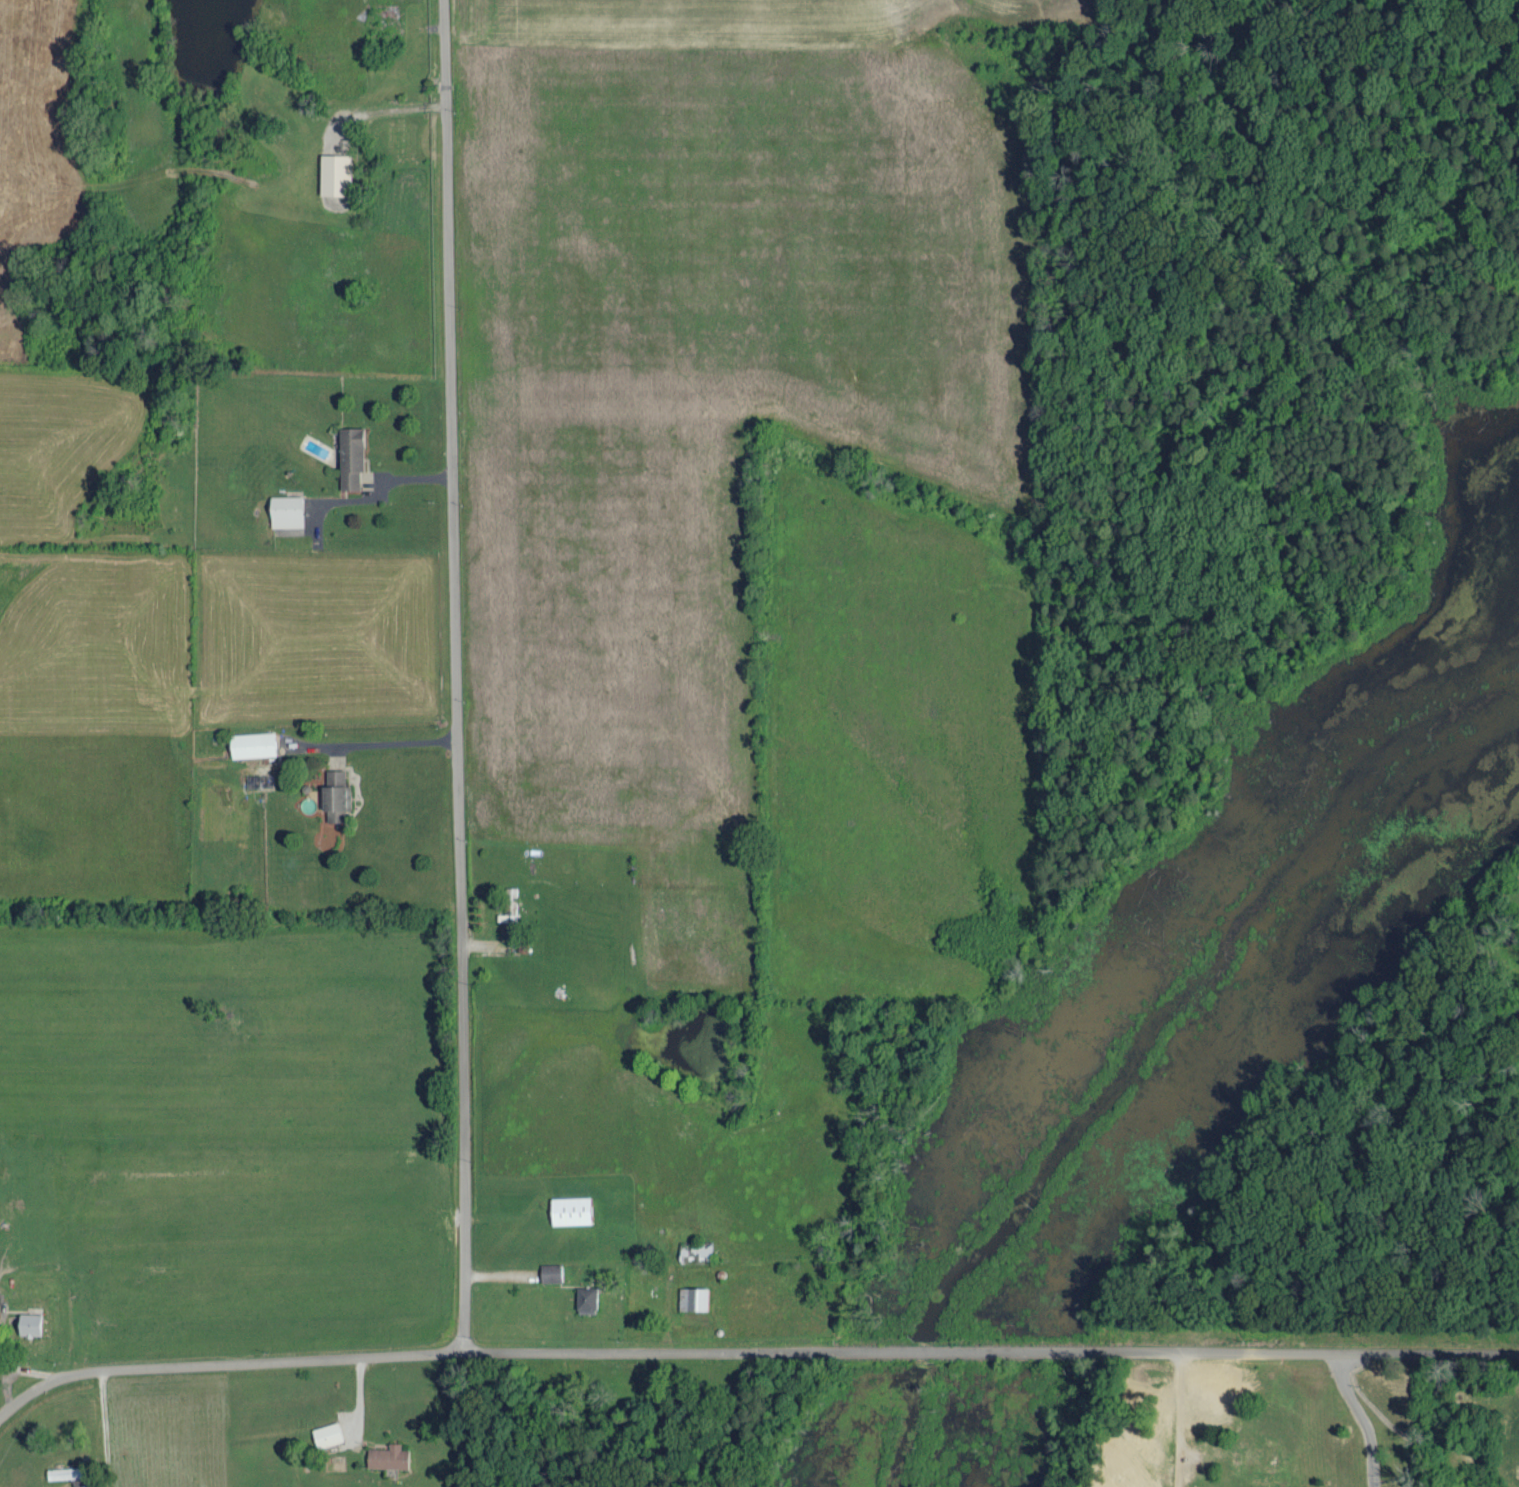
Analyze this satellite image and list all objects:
building: (334, 172)
building: (350, 455)
building: (286, 509)
road: (454, 675)
building: (252, 743)
building: (335, 793)
building: (571, 1207)
building: (550, 1270)
building: (693, 1295)
building: (585, 1297)
building: (28, 1322)
road: (752, 1351)
building: (1210, 1399)
road: (1361, 1417)
road: (1177, 1419)
building: (326, 1432)
building: (388, 1454)
building: (64, 1471)

